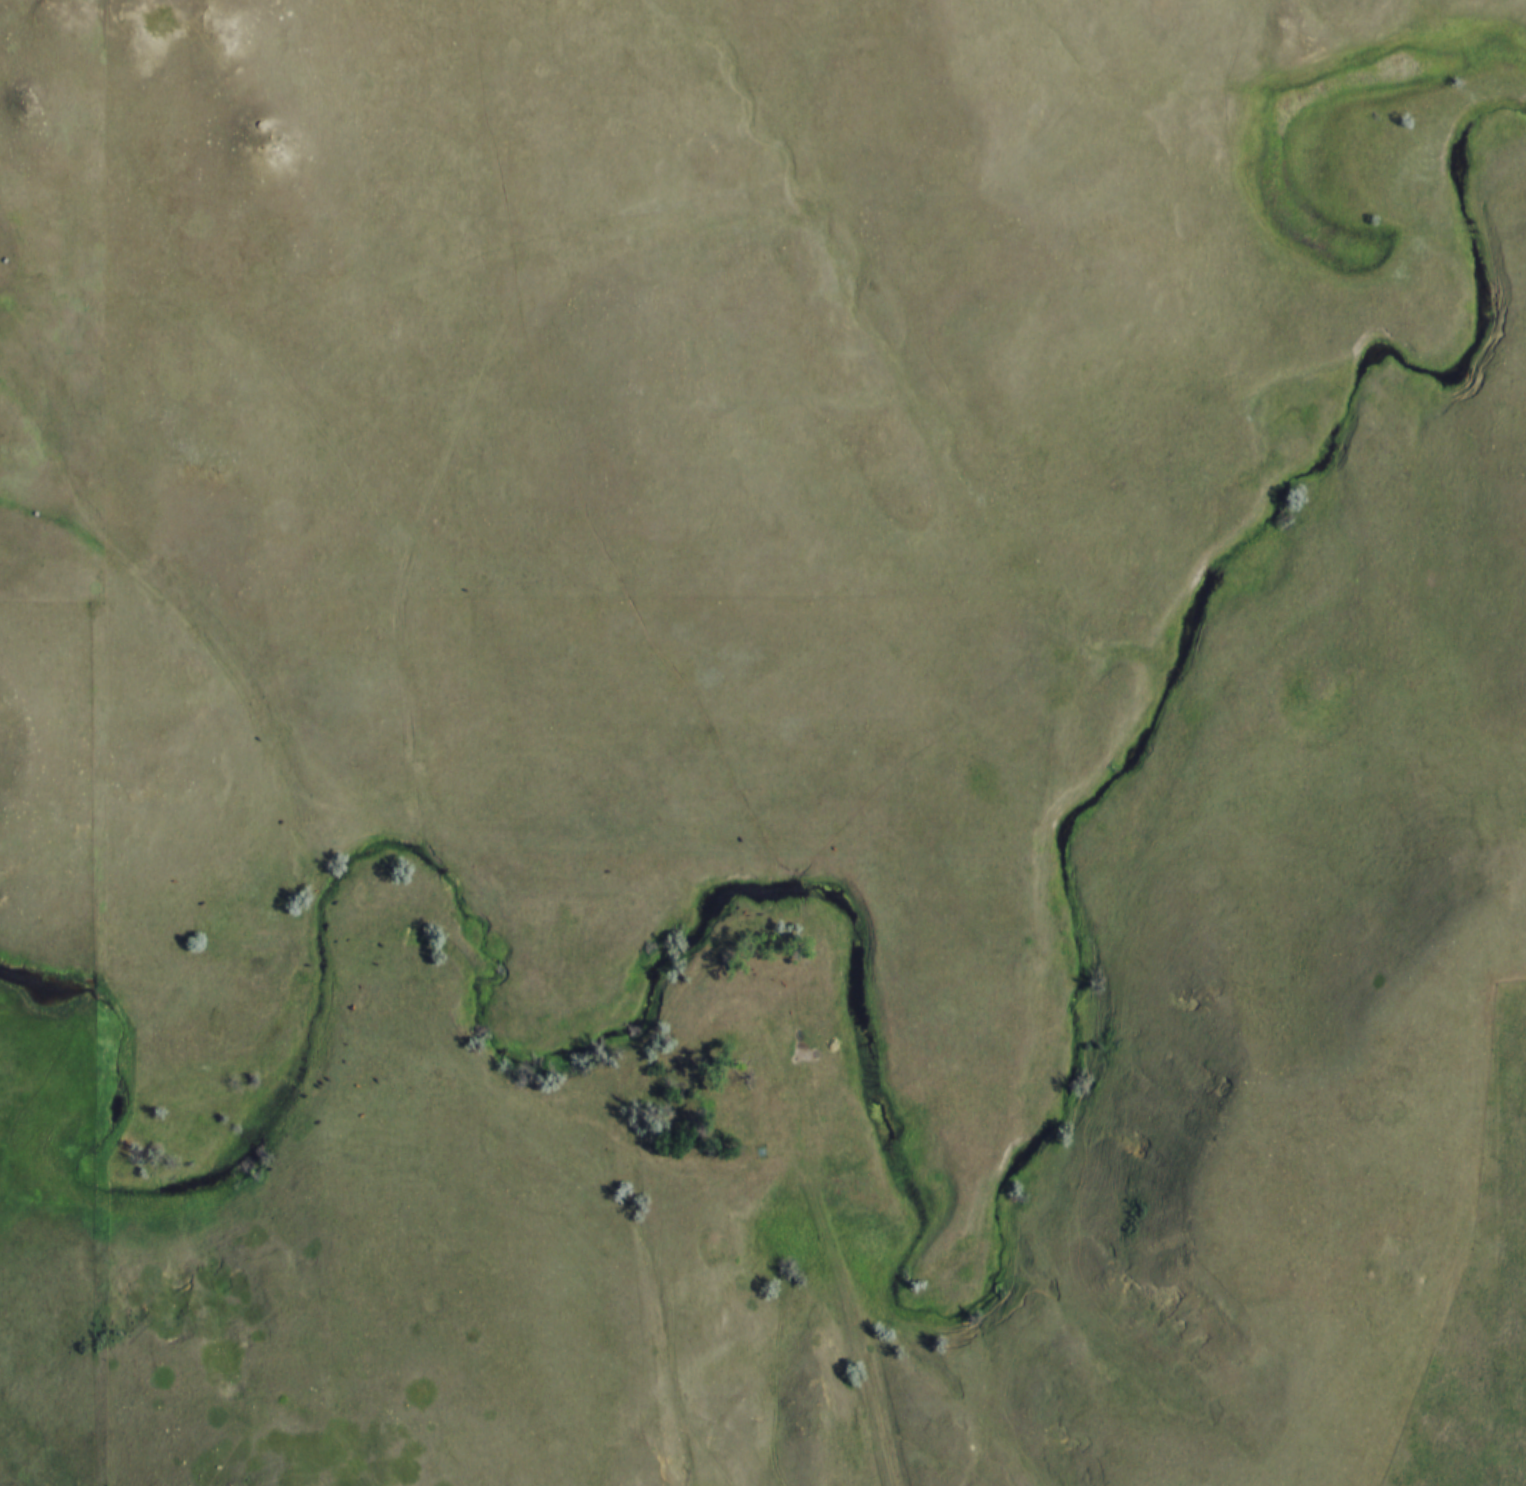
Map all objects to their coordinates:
road: (857, 1329)

